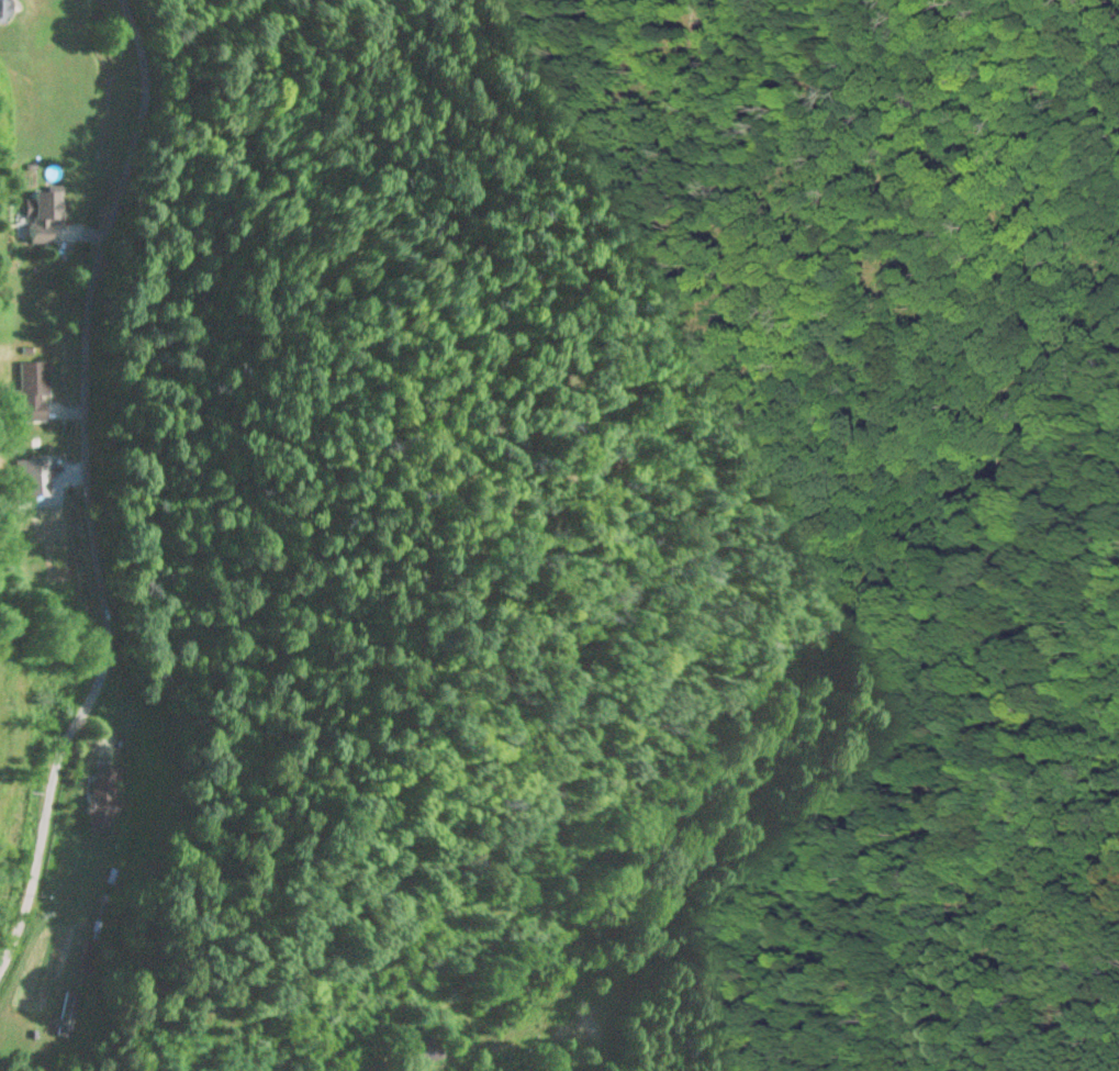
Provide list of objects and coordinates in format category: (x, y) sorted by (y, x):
building: (4, 11)
building: (43, 214)
building: (32, 391)
road: (342, 398)
road: (40, 412)
road: (86, 490)
building: (102, 796)
building: (89, 959)
building: (68, 1014)
building: (423, 1052)
road: (462, 1055)

